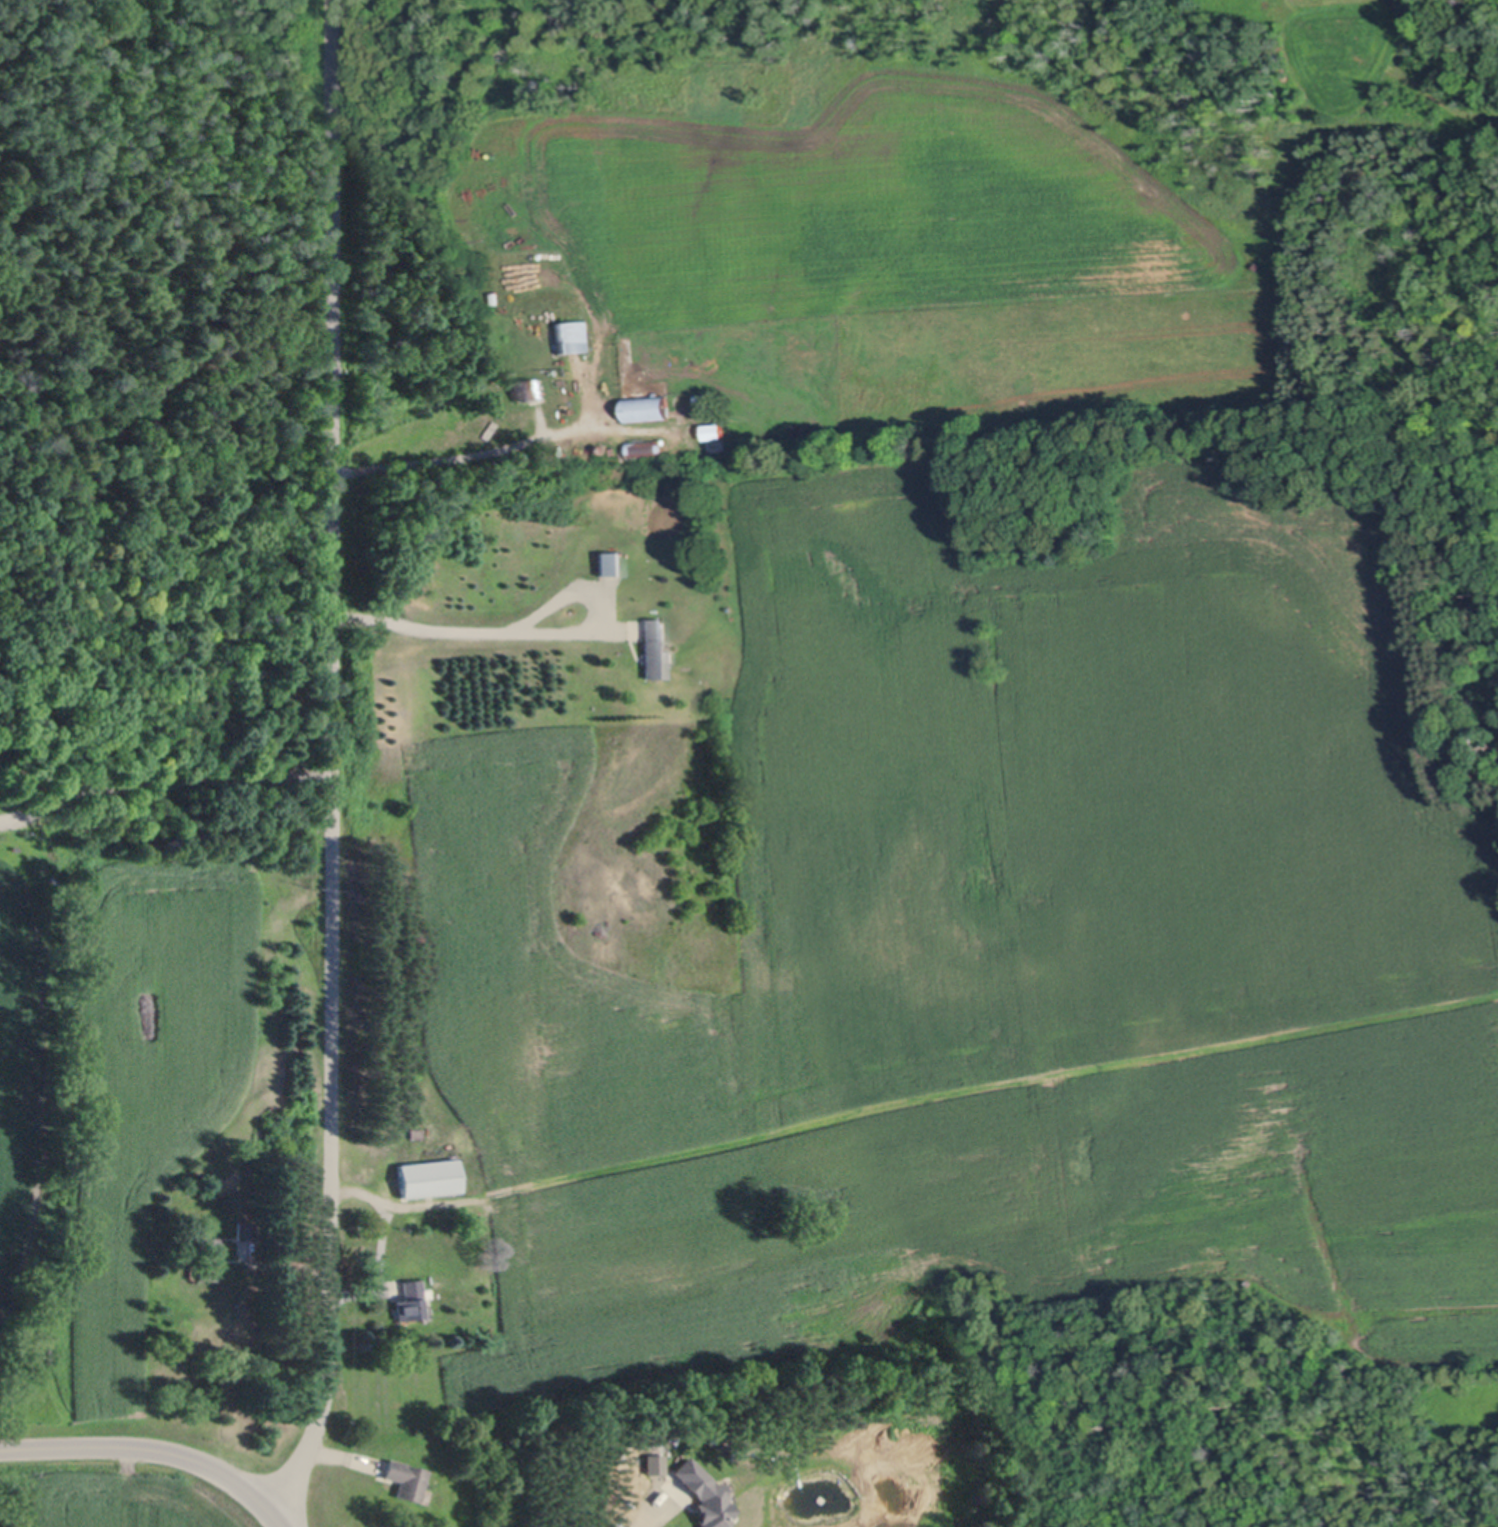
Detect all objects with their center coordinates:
building: (536, 84)
building: (535, 233)
building: (575, 335)
building: (530, 389)
building: (702, 397)
building: (707, 405)
building: (648, 407)
building: (715, 431)
building: (605, 447)
building: (647, 448)
road: (464, 463)
building: (610, 563)
road: (451, 634)
building: (653, 648)
road: (332, 760)
road: (162, 786)
building: (429, 1176)
building: (416, 1216)
building: (244, 1236)
road: (385, 1245)
building: (209, 1257)
building: (410, 1301)
road: (154, 1452)
building: (407, 1479)
building: (696, 1494)
road: (641, 1515)
building: (415, 1519)

